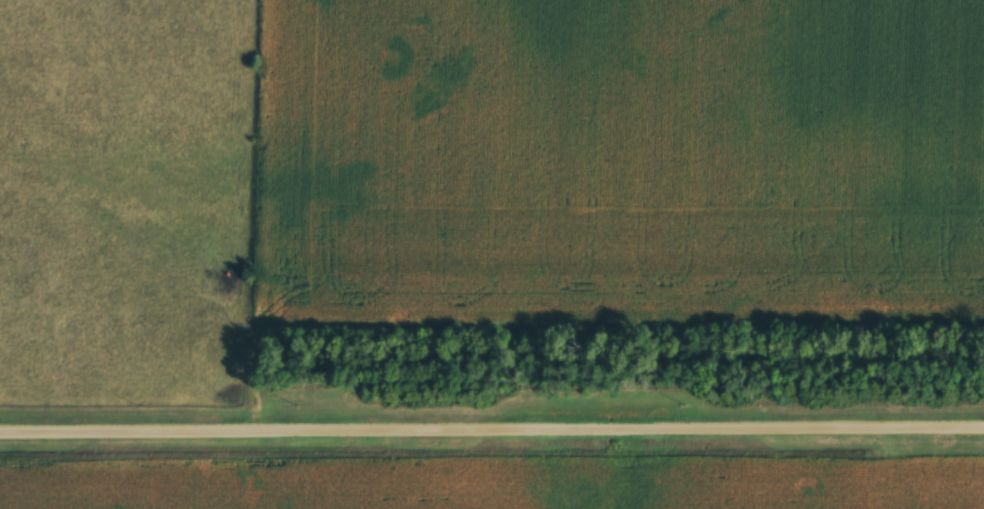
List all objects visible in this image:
road: (263, 213)
road: (491, 425)

